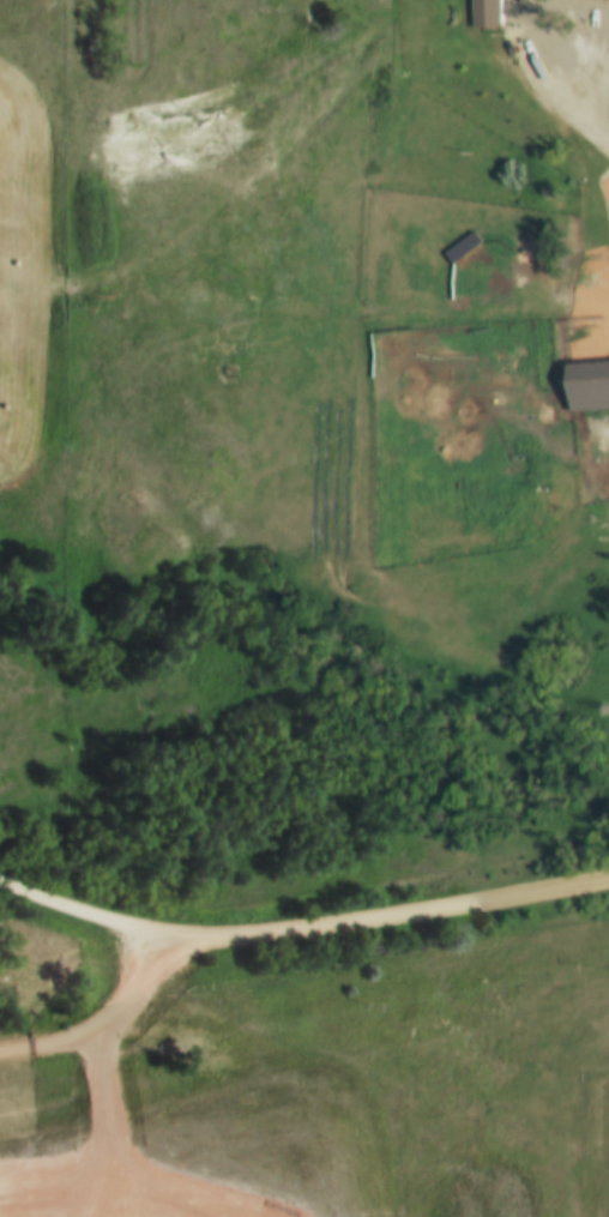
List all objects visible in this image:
building: (481, 12)
road: (559, 65)
road: (559, 112)
road: (258, 177)
road: (301, 933)
road: (96, 1025)

